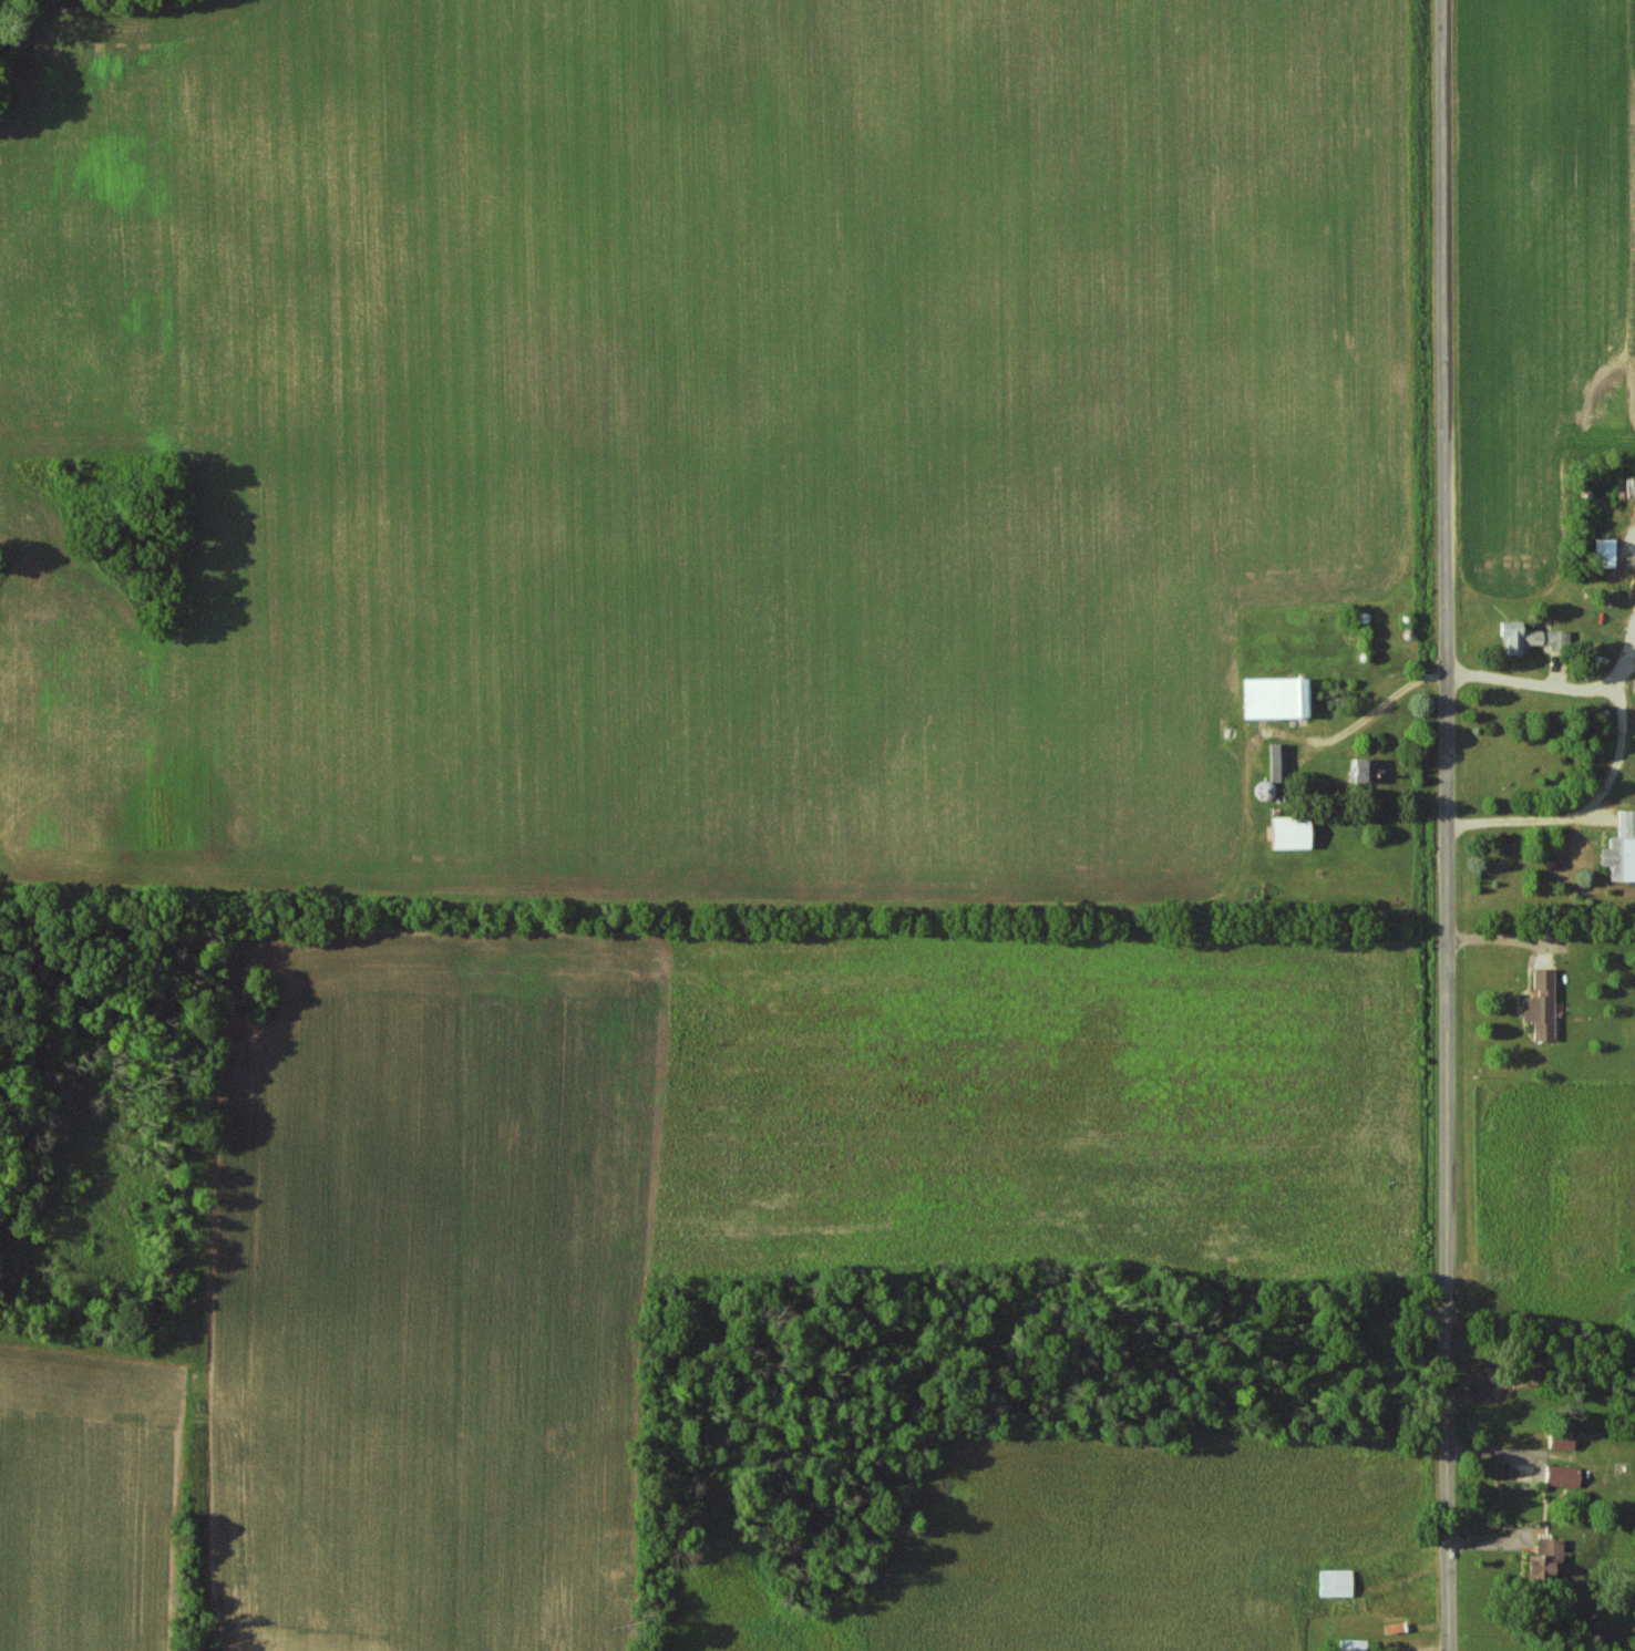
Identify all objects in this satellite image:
road: (1633, 540)
building: (1605, 553)
building: (1529, 638)
road: (1633, 643)
road: (1633, 652)
road: (1621, 672)
building: (1275, 699)
road: (1376, 711)
road: (1622, 743)
building: (1277, 762)
building: (1365, 771)
road: (1446, 825)
building: (1288, 834)
building: (1621, 850)
building: (1541, 1004)
building: (1560, 1442)
building: (1561, 1476)
building: (1544, 1558)
building: (1334, 1582)
building: (1350, 1645)

